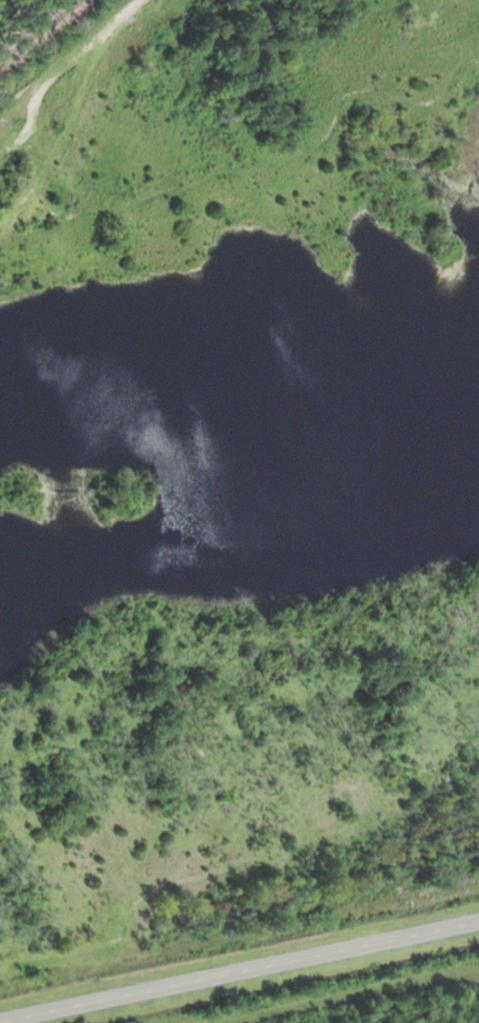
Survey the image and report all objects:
railway: (45, 30)
road: (239, 970)

